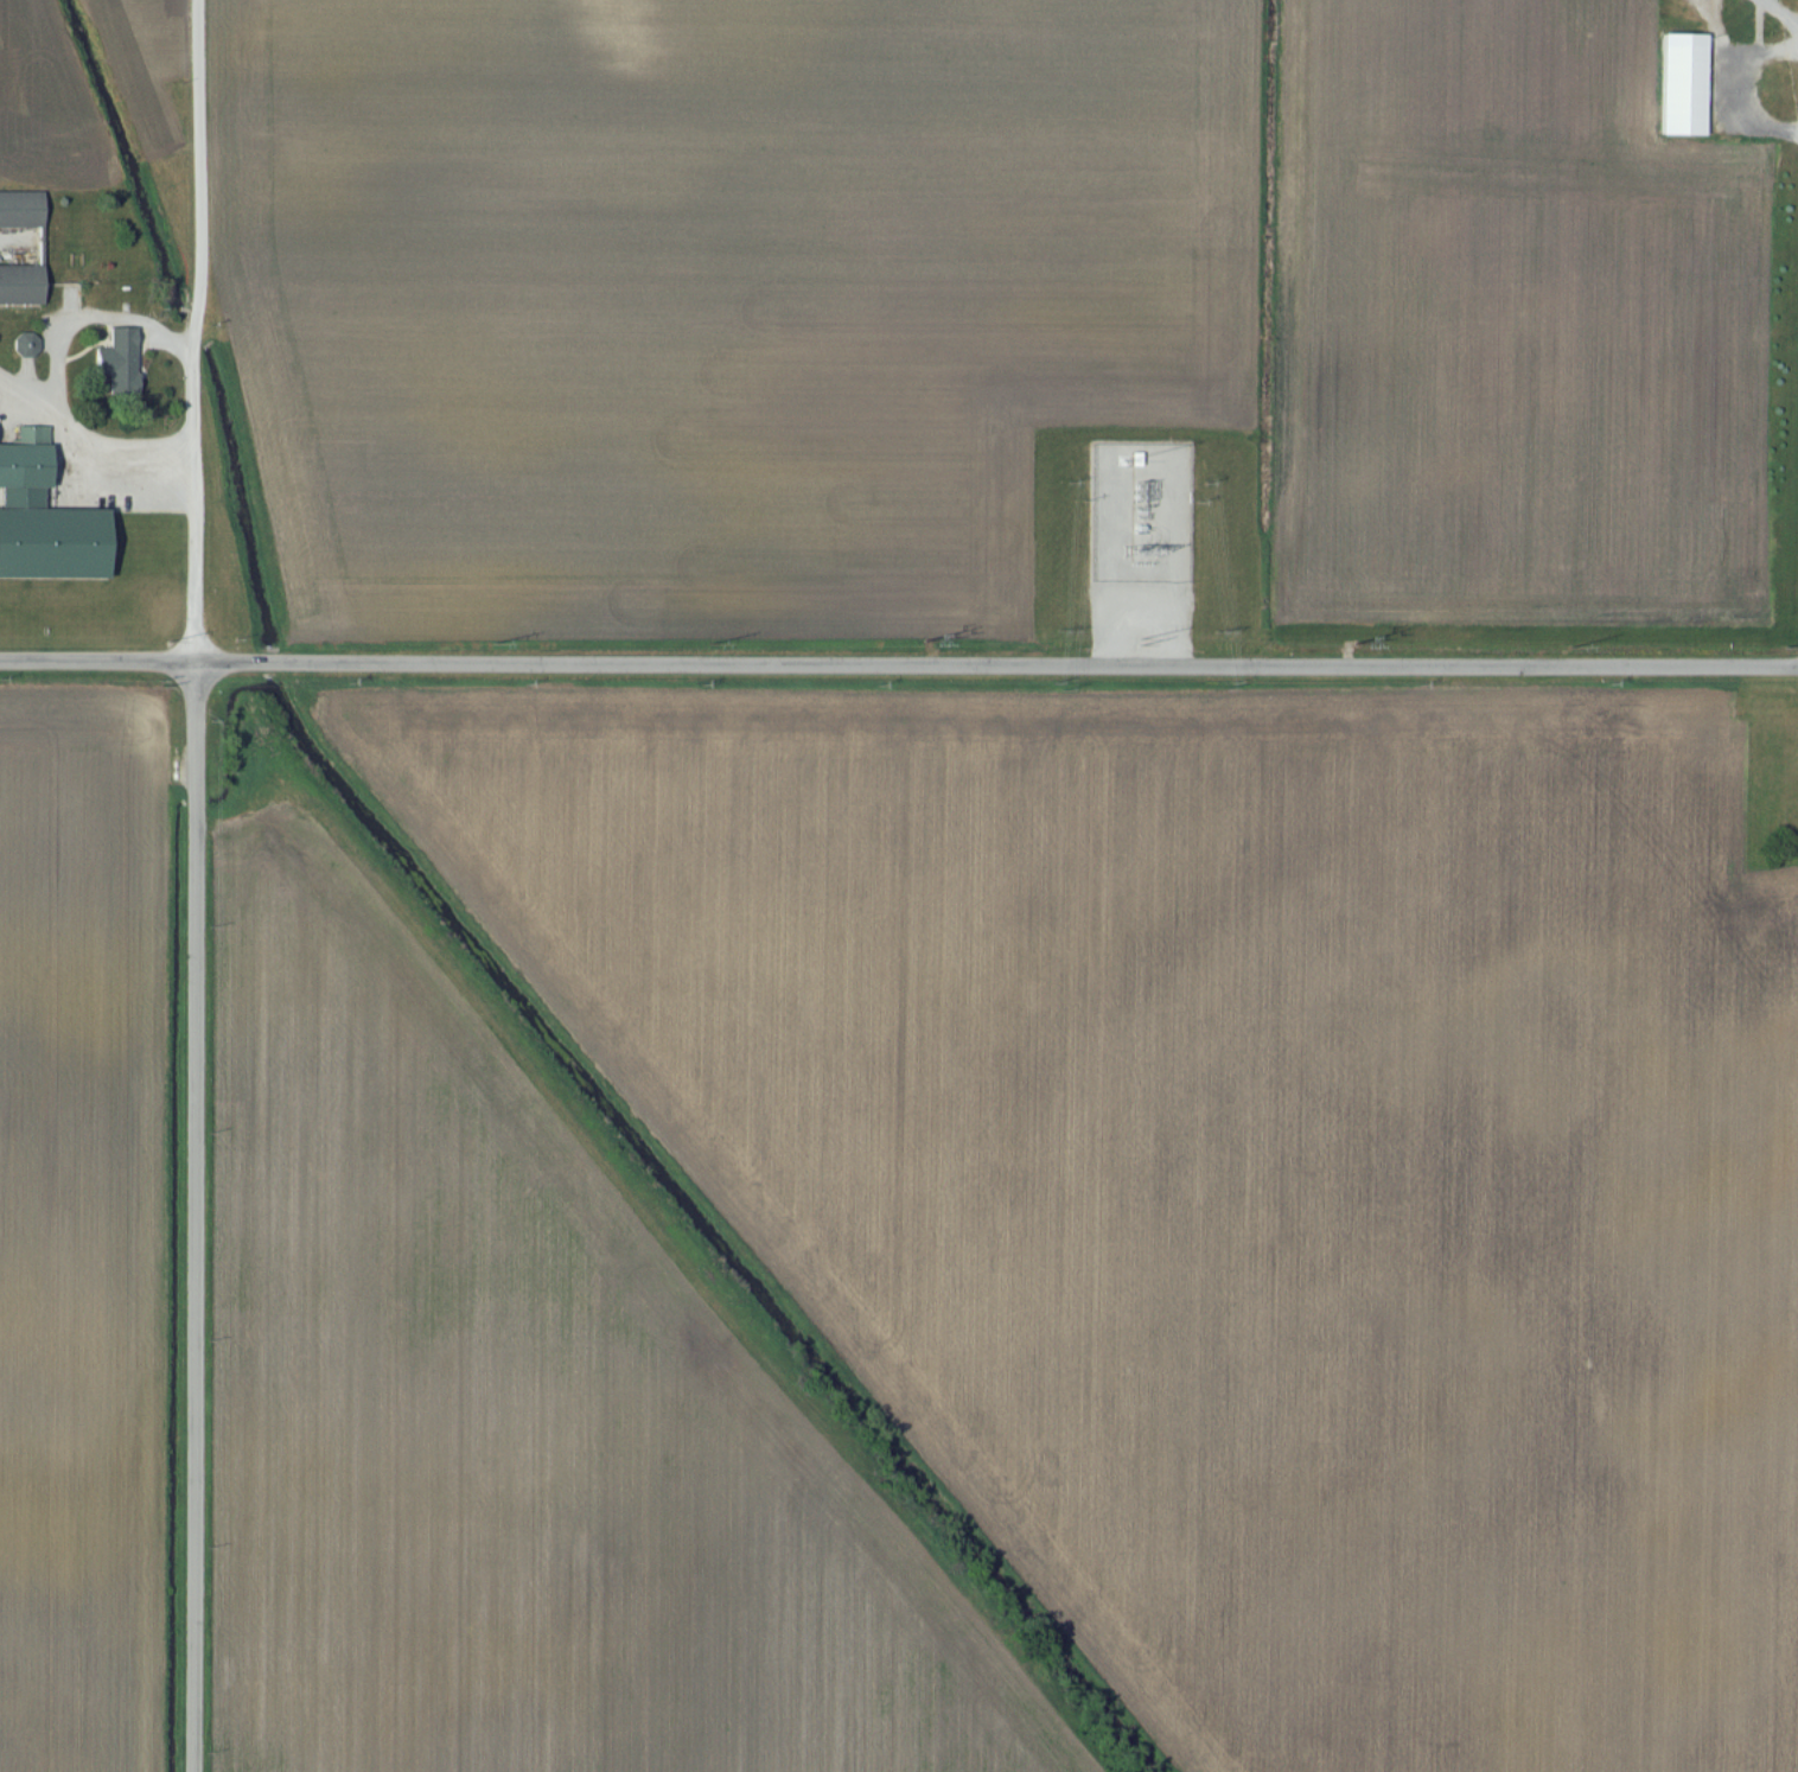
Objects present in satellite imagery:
building: (1682, 87)
road: (1728, 89)
building: (20, 210)
building: (20, 286)
road: (83, 310)
building: (26, 346)
building: (116, 363)
road: (84, 445)
building: (43, 523)
road: (898, 665)
road: (192, 885)

